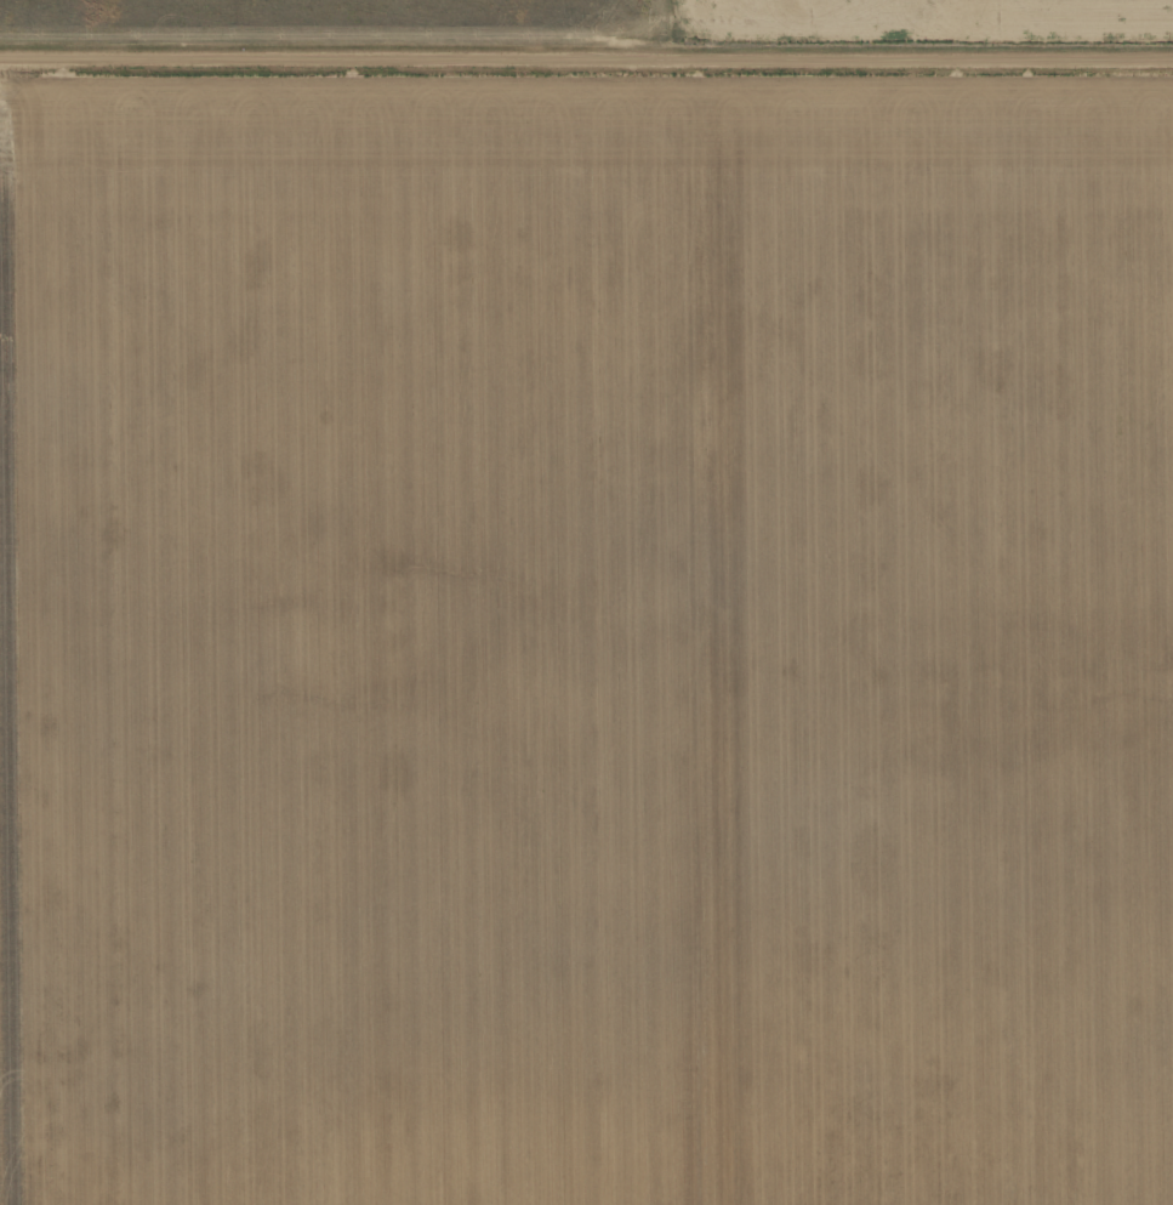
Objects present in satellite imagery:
road: (586, 56)

